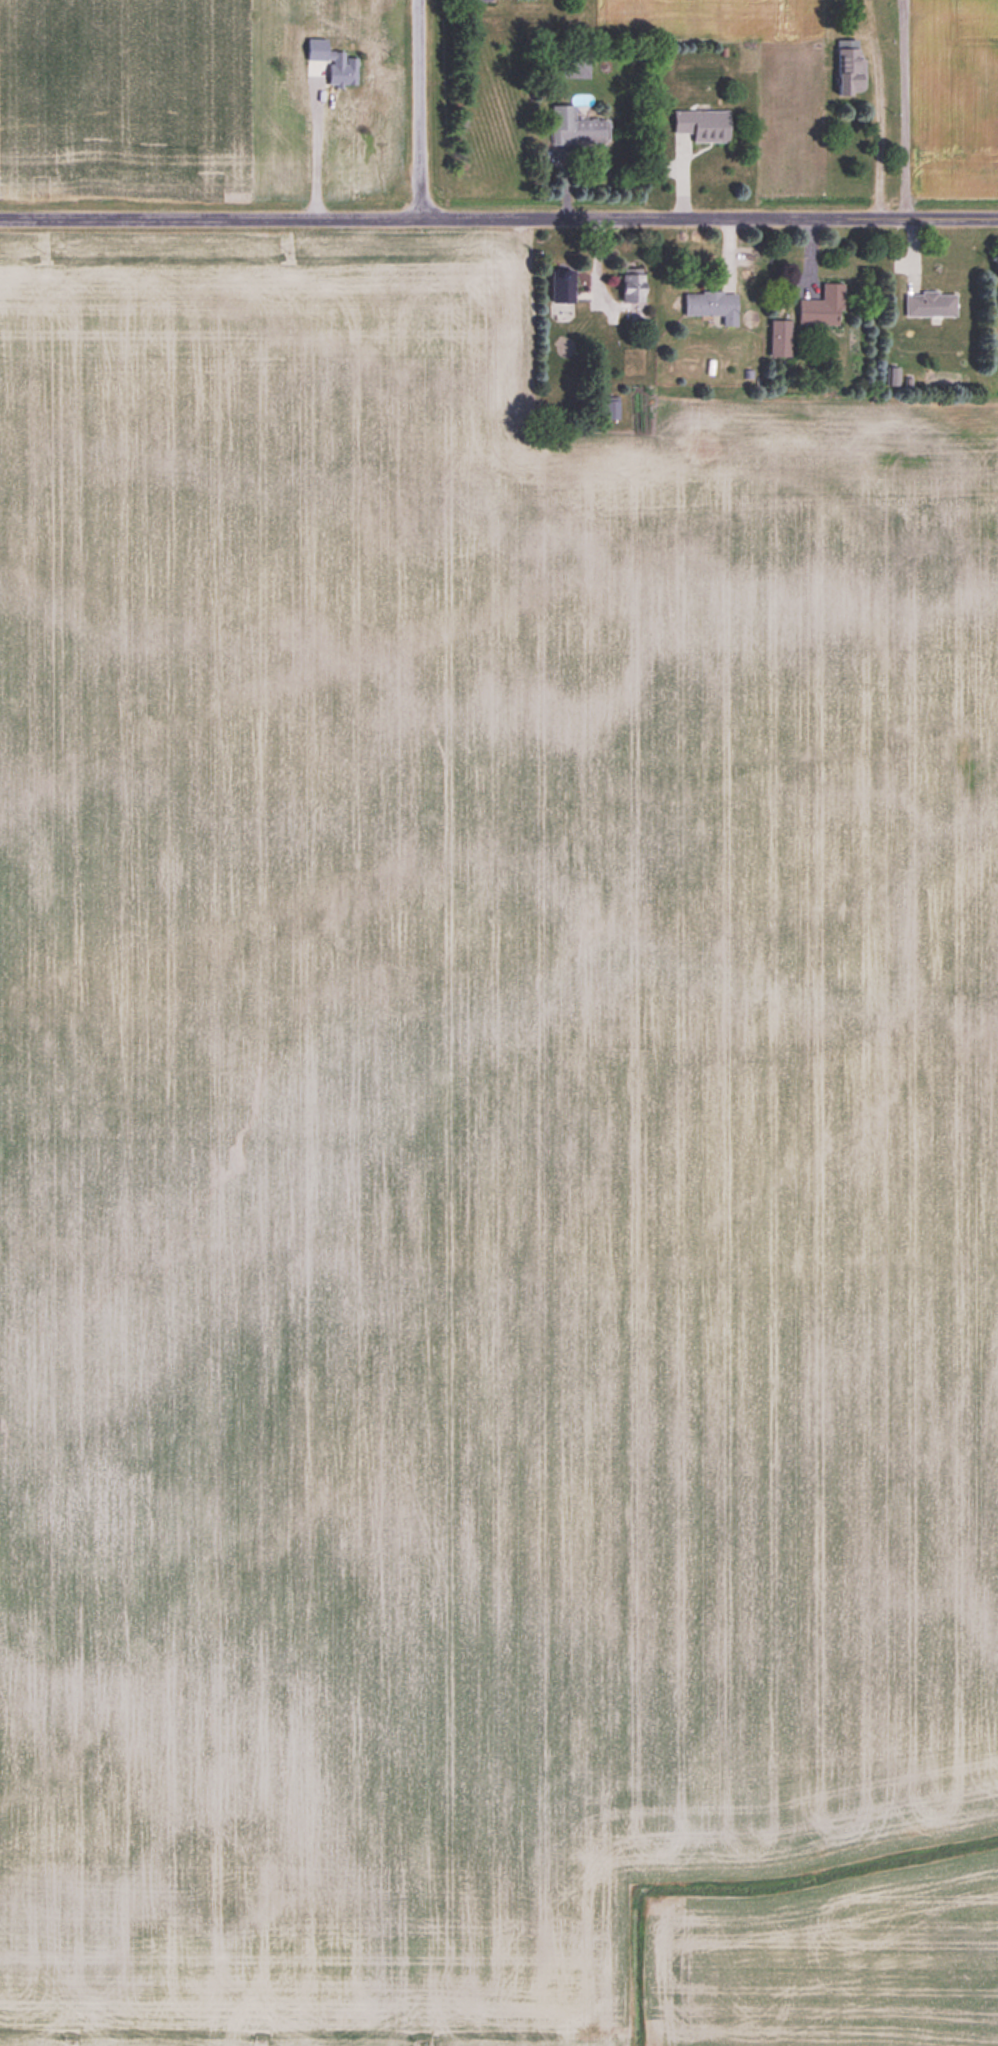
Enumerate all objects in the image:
building: (848, 67)
road: (418, 110)
building: (700, 124)
building: (574, 128)
road: (498, 218)
building: (630, 285)
building: (559, 286)
building: (929, 304)
building: (710, 305)
building: (821, 307)
building: (778, 338)
building: (893, 376)
building: (609, 407)

